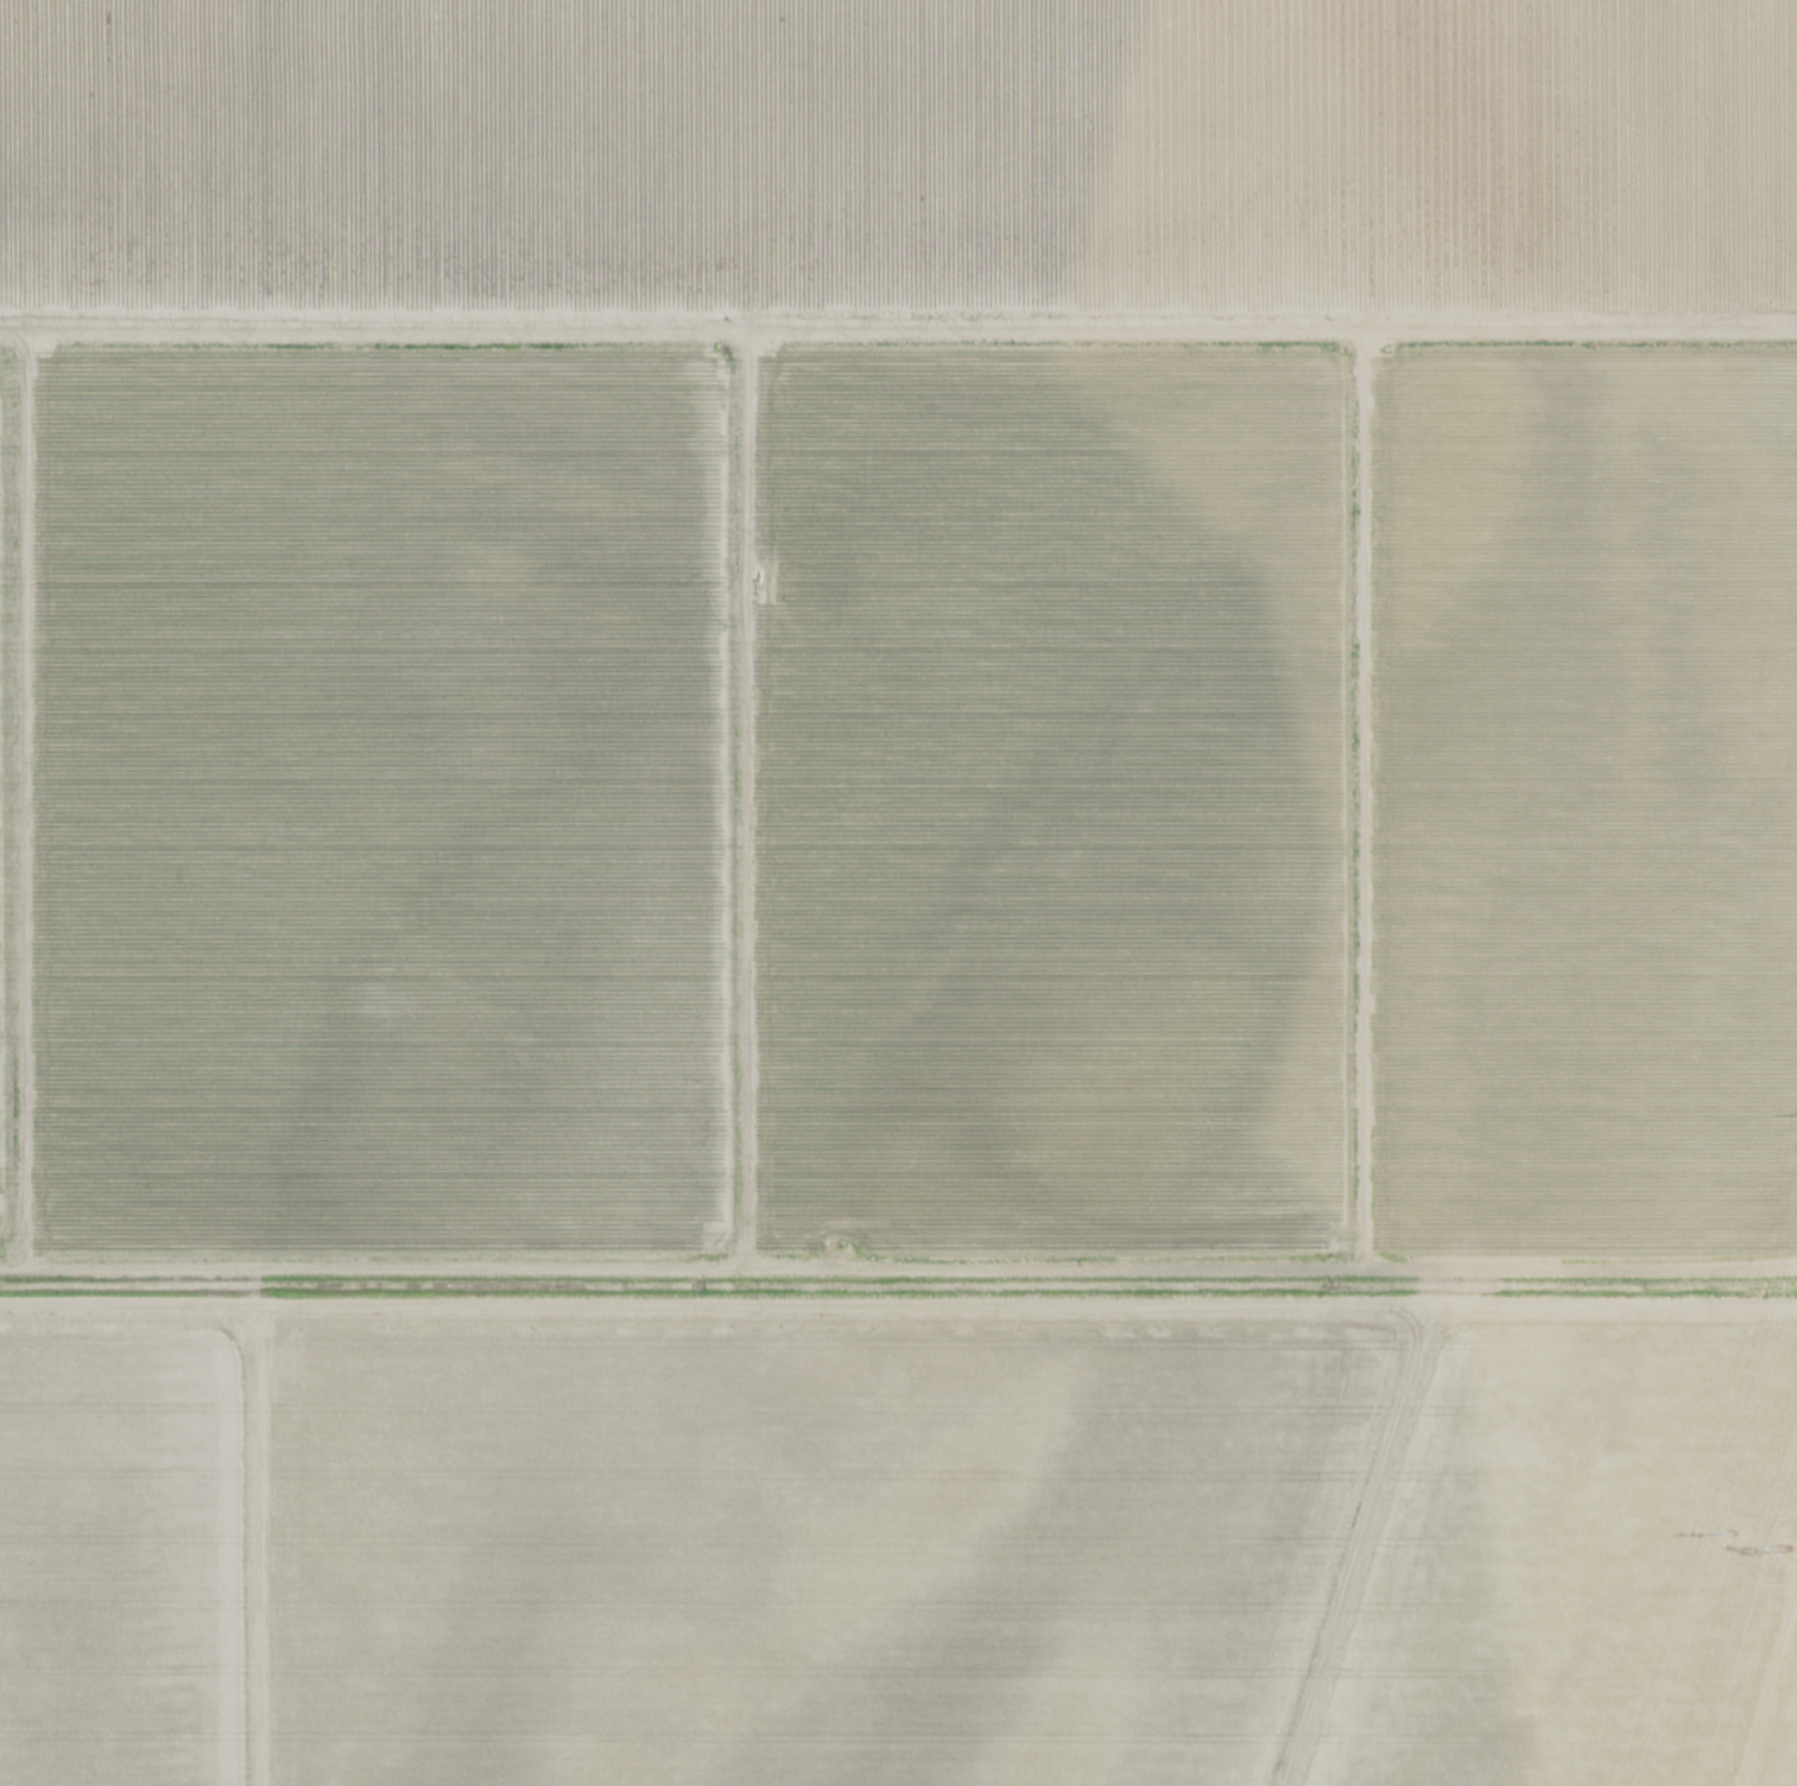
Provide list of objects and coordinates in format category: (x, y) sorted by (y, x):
road: (898, 566)
road: (367, 907)
road: (898, 1239)
power tower: (1789, 1547)

